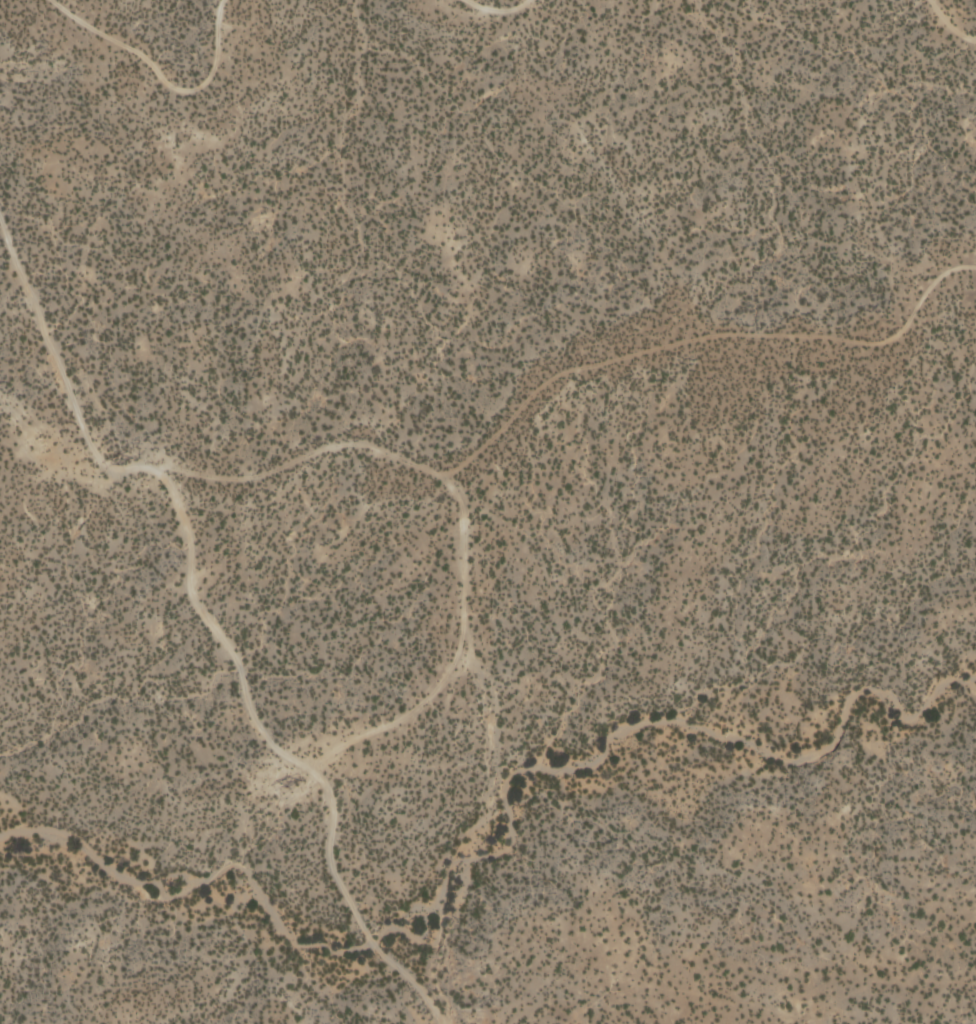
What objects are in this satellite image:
road: (495, 7)
road: (953, 22)
road: (162, 77)
power tower: (126, 460)
road: (209, 621)
power tower: (295, 782)

